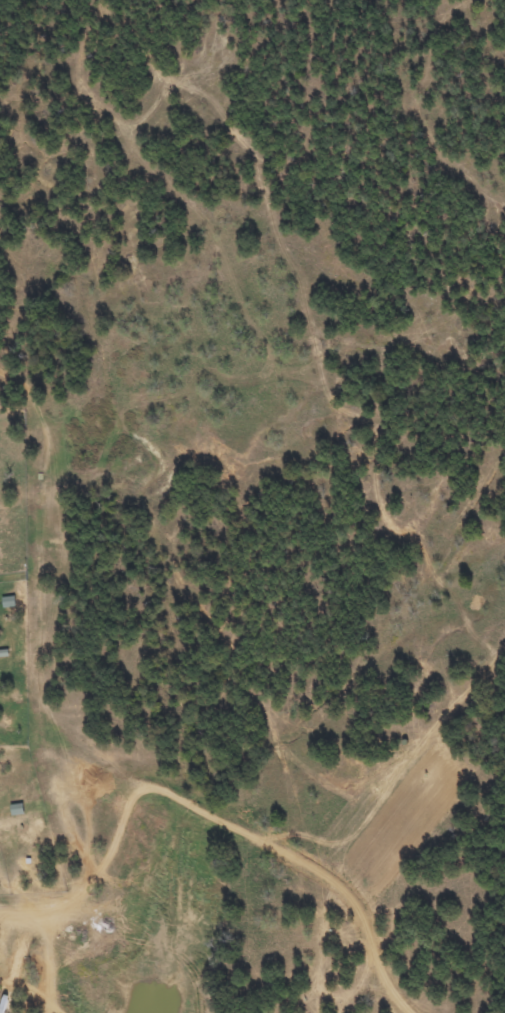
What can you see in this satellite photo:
road: (210, 819)

